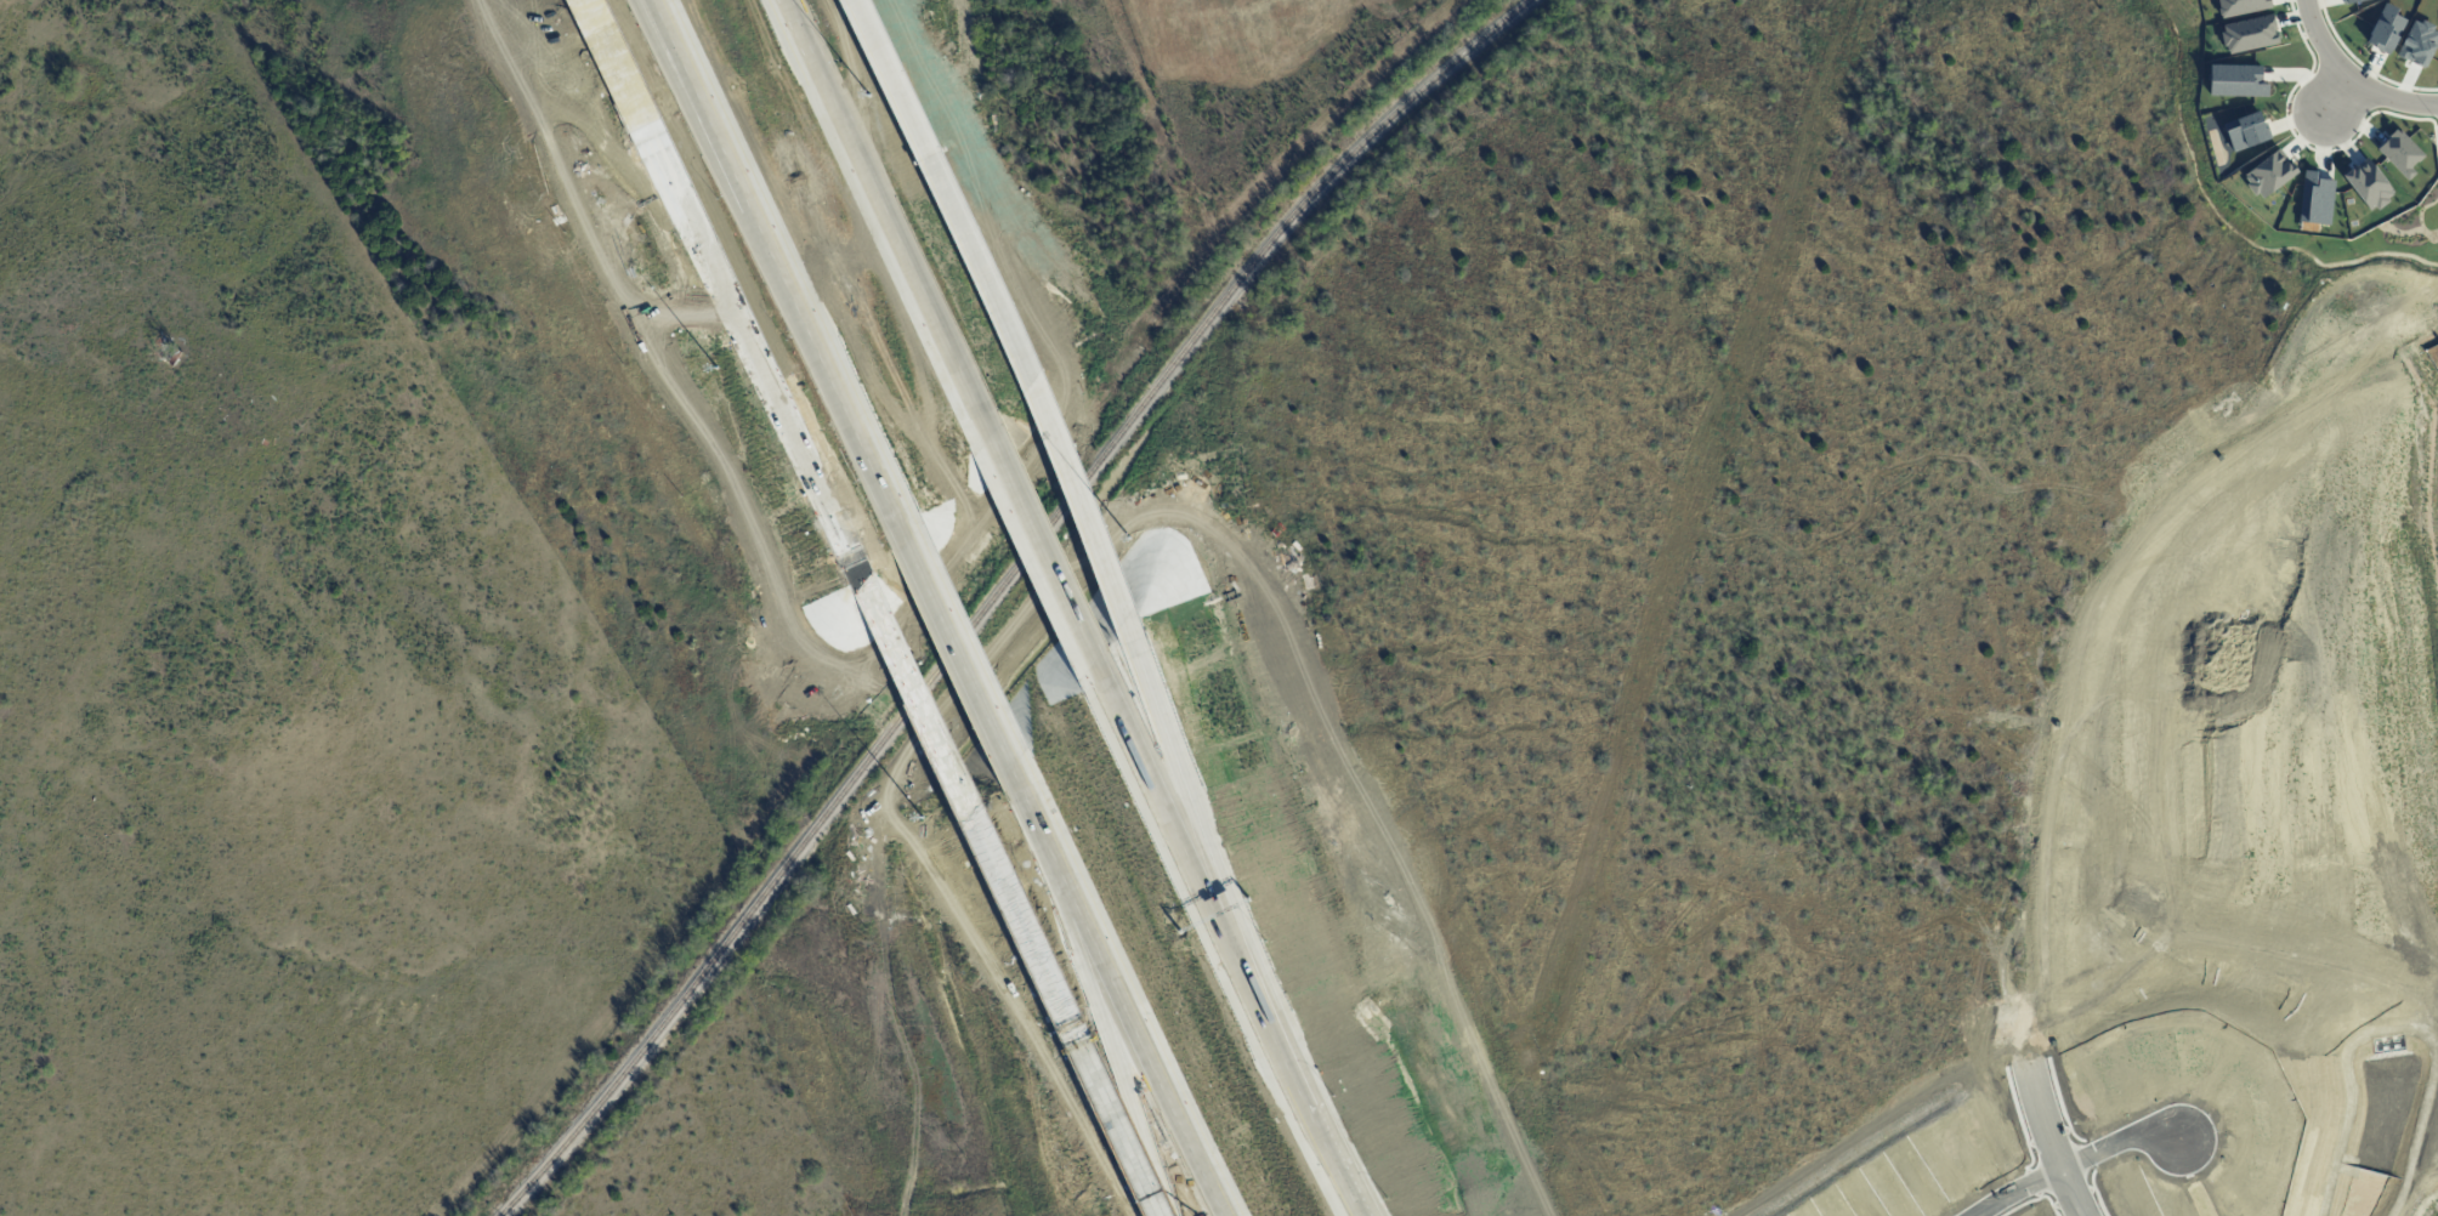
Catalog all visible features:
road: (656, 18)
road: (605, 46)
road: (2349, 78)
road: (2336, 95)
road: (934, 175)
road: (885, 211)
road: (775, 257)
road: (744, 331)
building: (166, 354)
road: (1075, 491)
road: (1049, 546)
railway: (999, 592)
road: (962, 650)
road: (2056, 682)
road: (924, 701)
road: (1183, 783)
road: (1169, 801)
road: (1039, 823)
road: (1071, 1024)
road: (1144, 1038)
road: (1110, 1039)
road: (1295, 1076)
road: (2077, 1169)

